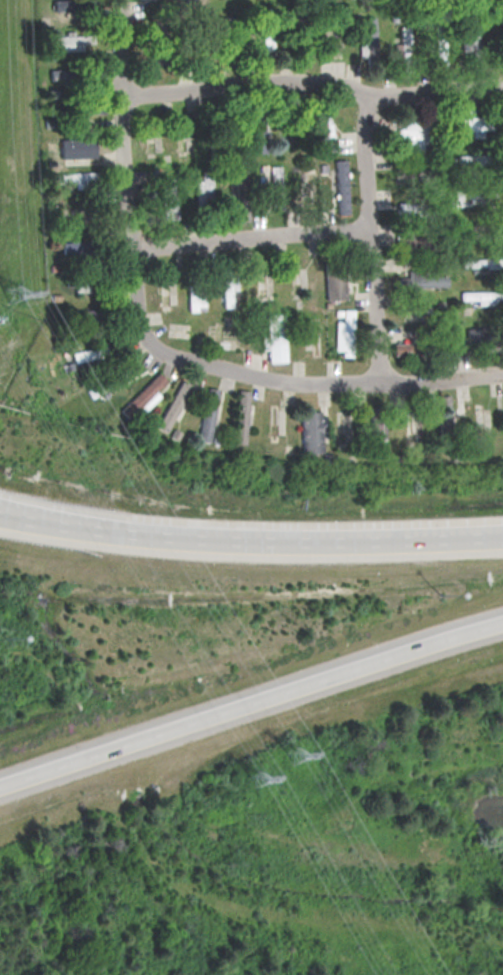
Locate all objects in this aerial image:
building: (368, 39)
building: (74, 41)
building: (268, 41)
building: (406, 42)
building: (60, 74)
road: (314, 83)
building: (469, 120)
building: (322, 129)
building: (411, 135)
building: (256, 137)
building: (78, 147)
road: (125, 173)
building: (75, 178)
building: (341, 186)
building: (276, 187)
building: (204, 189)
building: (170, 198)
road: (252, 237)
road: (369, 240)
building: (73, 248)
building: (481, 263)
building: (425, 279)
building: (84, 285)
building: (335, 285)
building: (229, 289)
power tower: (10, 297)
building: (483, 297)
building: (89, 317)
building: (346, 333)
building: (475, 334)
building: (275, 338)
building: (405, 348)
road: (323, 384)
building: (144, 397)
building: (175, 405)
building: (208, 414)
building: (242, 417)
building: (379, 428)
building: (312, 432)
road: (54, 514)
road: (54, 519)
road: (305, 540)
road: (251, 704)
power tower: (300, 756)
power tower: (261, 776)

